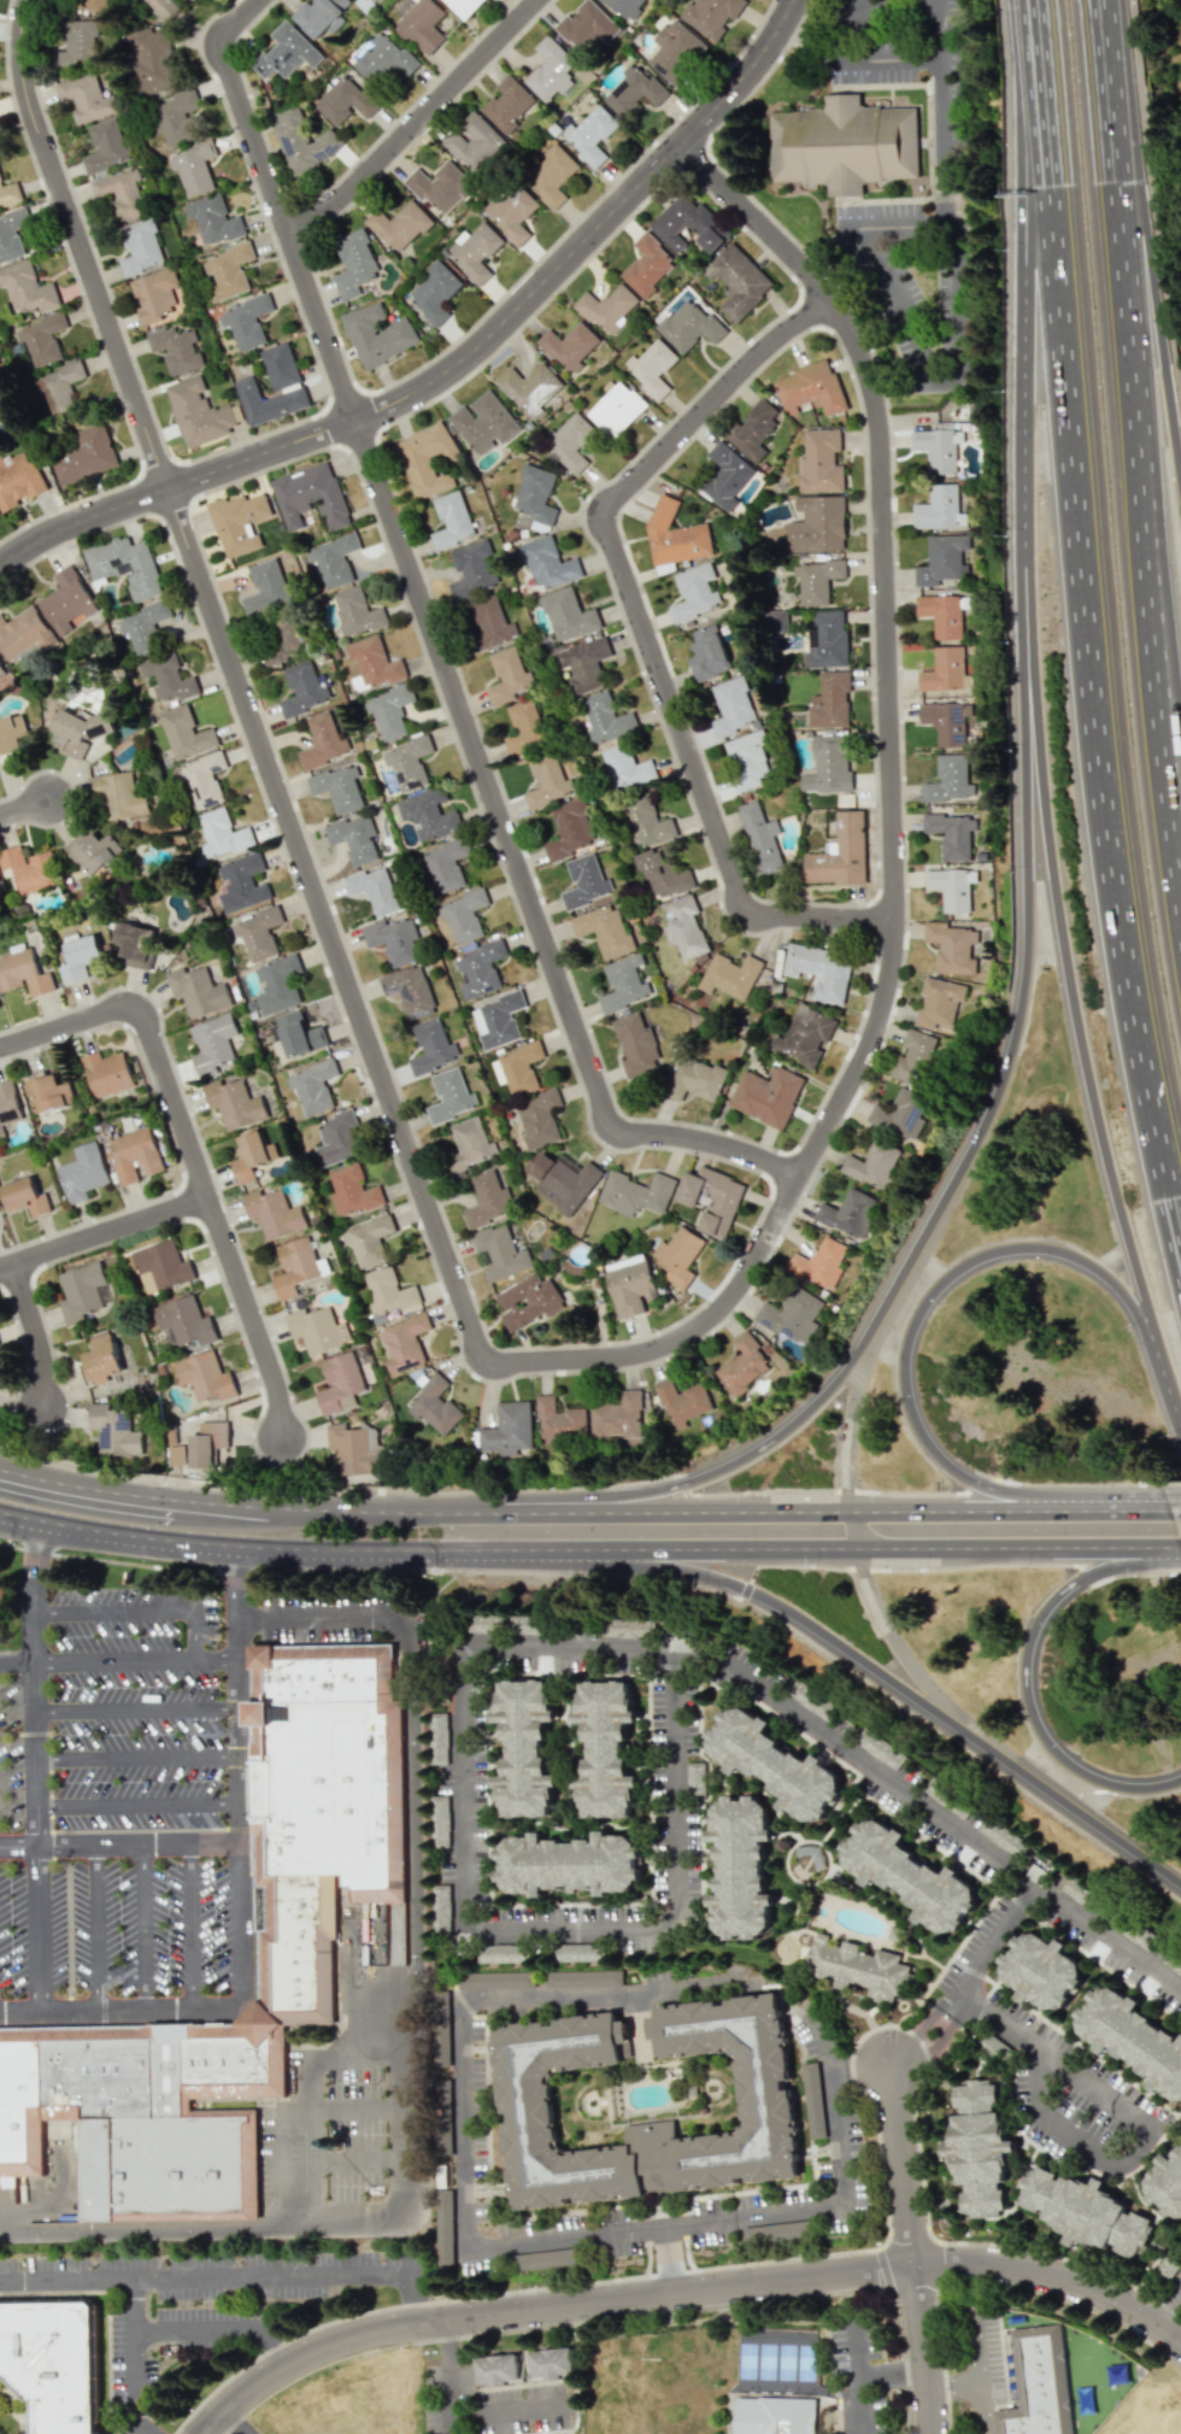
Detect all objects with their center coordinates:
building: (194, 0)
building: (364, 4)
building: (93, 5)
building: (464, 6)
building: (625, 6)
building: (166, 10)
building: (319, 16)
building: (711, 16)
building: (423, 24)
building: (586, 25)
building: (77, 45)
building: (676, 51)
building: (286, 52)
building: (383, 58)
road: (840, 58)
building: (152, 59)
road: (892, 60)
building: (550, 68)
building: (633, 92)
building: (87, 96)
building: (346, 99)
building: (507, 104)
road: (940, 108)
road: (1107, 111)
building: (176, 117)
road: (418, 122)
building: (592, 135)
building: (304, 141)
building: (475, 141)
building: (106, 145)
building: (844, 145)
building: (193, 168)
building: (551, 176)
building: (441, 187)
building: (8, 193)
building: (121, 193)
building: (512, 211)
building: (213, 218)
building: (399, 224)
building: (688, 224)
building: (12, 234)
road: (1015, 242)
building: (140, 246)
building: (475, 251)
road: (1141, 253)
building: (354, 264)
building: (647, 265)
building: (228, 270)
building: (739, 281)
building: (27, 287)
building: (434, 292)
building: (158, 294)
building: (607, 307)
building: (246, 321)
building: (688, 325)
building: (376, 334)
building: (42, 338)
building: (570, 346)
road: (907, 346)
building: (176, 348)
road: (454, 363)
building: (280, 365)
building: (652, 366)
building: (0, 383)
building: (59, 387)
building: (530, 387)
building: (810, 388)
building: (269, 401)
building: (617, 409)
building: (198, 411)
building: (484, 422)
building: (753, 428)
building: (571, 442)
building: (934, 448)
building: (84, 454)
building: (427, 459)
building: (819, 462)
road: (1147, 468)
building: (725, 475)
building: (19, 480)
building: (535, 494)
building: (310, 495)
building: (938, 509)
building: (452, 521)
building: (239, 522)
building: (817, 524)
building: (674, 535)
building: (334, 558)
building: (941, 559)
building: (548, 563)
building: (125, 565)
building: (474, 569)
building: (816, 580)
building: (266, 587)
building: (694, 592)
road: (1139, 597)
building: (67, 602)
road: (1087, 610)
building: (356, 611)
building: (568, 614)
building: (940, 615)
building: (774, 621)
building: (490, 623)
building: (145, 626)
building: (24, 633)
road: (641, 635)
building: (282, 639)
building: (825, 639)
road: (440, 650)
building: (707, 652)
building: (375, 662)
building: (587, 664)
building: (1, 670)
building: (945, 670)
building: (507, 675)
building: (169, 678)
road: (239, 686)
building: (302, 688)
building: (830, 700)
building: (733, 705)
building: (389, 710)
building: (607, 719)
building: (945, 721)
building: (524, 727)
building: (80, 729)
building: (186, 733)
building: (11, 735)
building: (323, 739)
building: (747, 761)
building: (409, 762)
building: (828, 764)
building: (627, 767)
building: (204, 780)
building: (546, 780)
building: (951, 781)
building: (339, 787)
building: (119, 794)
road: (25, 809)
building: (428, 814)
building: (646, 822)
building: (569, 829)
building: (222, 833)
building: (952, 834)
road: (894, 835)
building: (760, 837)
building: (354, 838)
building: (98, 851)
building: (839, 854)
building: (446, 864)
building: (30, 868)
building: (663, 873)
building: (584, 881)
building: (242, 882)
building: (951, 887)
building: (0, 890)
building: (374, 890)
building: (401, 892)
building: (464, 914)
building: (684, 927)
building: (604, 931)
building: (258, 933)
building: (394, 939)
building: (135, 944)
building: (951, 946)
road: (1064, 946)
building: (80, 957)
building: (481, 968)
building: (819, 970)
building: (23, 973)
building: (730, 975)
building: (277, 984)
building: (624, 984)
building: (198, 991)
building: (410, 991)
building: (938, 1003)
building: (498, 1020)
building: (298, 1033)
road: (148, 1036)
building: (804, 1036)
building: (212, 1043)
building: (636, 1043)
building: (431, 1046)
building: (915, 1056)
building: (518, 1068)
building: (107, 1073)
building: (694, 1079)
road: (999, 1084)
building: (312, 1085)
building: (48, 1092)
building: (766, 1095)
building: (451, 1096)
building: (234, 1103)
building: (8, 1104)
building: (900, 1113)
building: (539, 1118)
building: (337, 1138)
building: (470, 1144)
building: (133, 1155)
building: (251, 1155)
building: (871, 1163)
building: (83, 1172)
building: (564, 1179)
building: (352, 1190)
building: (635, 1192)
building: (24, 1196)
building: (488, 1198)
building: (711, 1198)
building: (274, 1213)
building: (848, 1213)
road: (105, 1232)
building: (368, 1239)
building: (501, 1253)
building: (677, 1255)
building: (818, 1263)
building: (161, 1266)
building: (294, 1266)
building: (629, 1284)
road: (936, 1285)
building: (388, 1291)
building: (84, 1294)
building: (528, 1301)
road: (252, 1314)
building: (792, 1314)
building: (183, 1321)
building: (315, 1329)
road: (36, 1332)
building: (404, 1343)
building: (100, 1359)
building: (742, 1363)
building: (205, 1376)
building: (339, 1383)
building: (682, 1402)
building: (434, 1406)
road: (1177, 1408)
road: (850, 1410)
building: (617, 1417)
building: (559, 1420)
building: (509, 1429)
building: (114, 1431)
building: (208, 1444)
building: (354, 1449)
road: (956, 1500)
road: (422, 1501)
road: (1116, 1501)
road: (1174, 1501)
road: (851, 1523)
road: (1180, 1542)
road: (271, 1544)
road: (1017, 1544)
road: (700, 1548)
road: (370, 1571)
building: (1, 1595)
road: (111, 1611)
road: (312, 1618)
parking lot: (330, 1618)
road: (193, 1635)
road: (6, 1650)
road: (901, 1650)
road: (135, 1662)
road: (16, 1665)
road: (1024, 1672)
road: (882, 1675)
road: (641, 1676)
road: (772, 1701)
parking lot: (134, 1708)
road: (135, 1709)
building: (437, 1737)
building: (524, 1747)
building: (605, 1748)
building: (880, 1748)
parking lot: (12, 1754)
road: (136, 1758)
building: (772, 1764)
road: (34, 1765)
road: (239, 1776)
building: (695, 1779)
road: (674, 1785)
road: (469, 1789)
road: (136, 1803)
building: (440, 1822)
road: (415, 1828)
road: (75, 1831)
building: (1003, 1836)
road: (119, 1844)
building: (568, 1864)
building: (740, 1866)
building: (909, 1875)
building: (440, 1905)
road: (1020, 1905)
road: (572, 1924)
road: (189, 1926)
parking lot: (140, 1928)
road: (143, 1928)
road: (94, 1929)
parking lot: (13, 1930)
building: (578, 1952)
building: (503, 1953)
building: (302, 1963)
building: (858, 1967)
building: (1041, 1970)
building: (584, 1978)
road: (605, 1993)
road: (123, 2011)
building: (441, 2028)
road: (944, 2035)
building: (1133, 2039)
road: (824, 2041)
road: (1046, 2059)
road: (863, 2068)
road: (398, 2093)
building: (812, 2100)
building: (766, 2102)
road: (282, 2109)
road: (462, 2121)
road: (839, 2131)
road: (315, 2135)
road: (1071, 2136)
building: (980, 2147)
road: (904, 2165)
building: (1167, 2184)
building: (1083, 2210)
road: (337, 2213)
road: (658, 2225)
road: (141, 2227)
building: (443, 2227)
building: (774, 2231)
road: (882, 2241)
building: (537, 2259)
road: (666, 2260)
building: (1169, 2263)
road: (1057, 2275)
road: (227, 2276)
road: (994, 2281)
road: (1168, 2306)
road: (545, 2310)
road: (616, 2318)
road: (223, 2329)
road: (924, 2350)
road: (857, 2354)
road: (134, 2356)
road: (523, 2357)
building: (53, 2363)
building: (551, 2363)
building: (497, 2369)
road: (893, 2373)
road: (979, 2374)
road: (448, 2379)
road: (564, 2380)
building: (1039, 2383)
road: (859, 2405)
road: (512, 2411)
road: (981, 2411)
building: (776, 2417)
road: (229, 2424)

